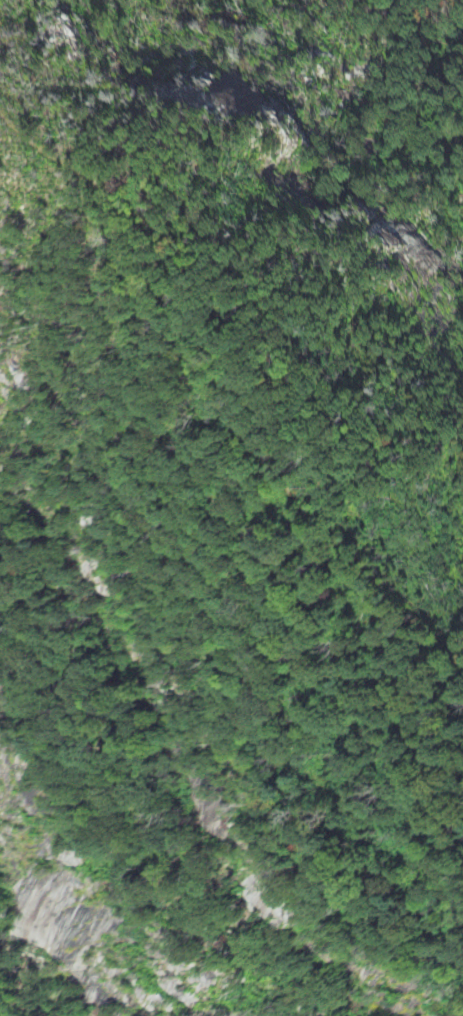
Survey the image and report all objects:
park: (395, 49)
road: (216, 394)
park: (255, 704)

